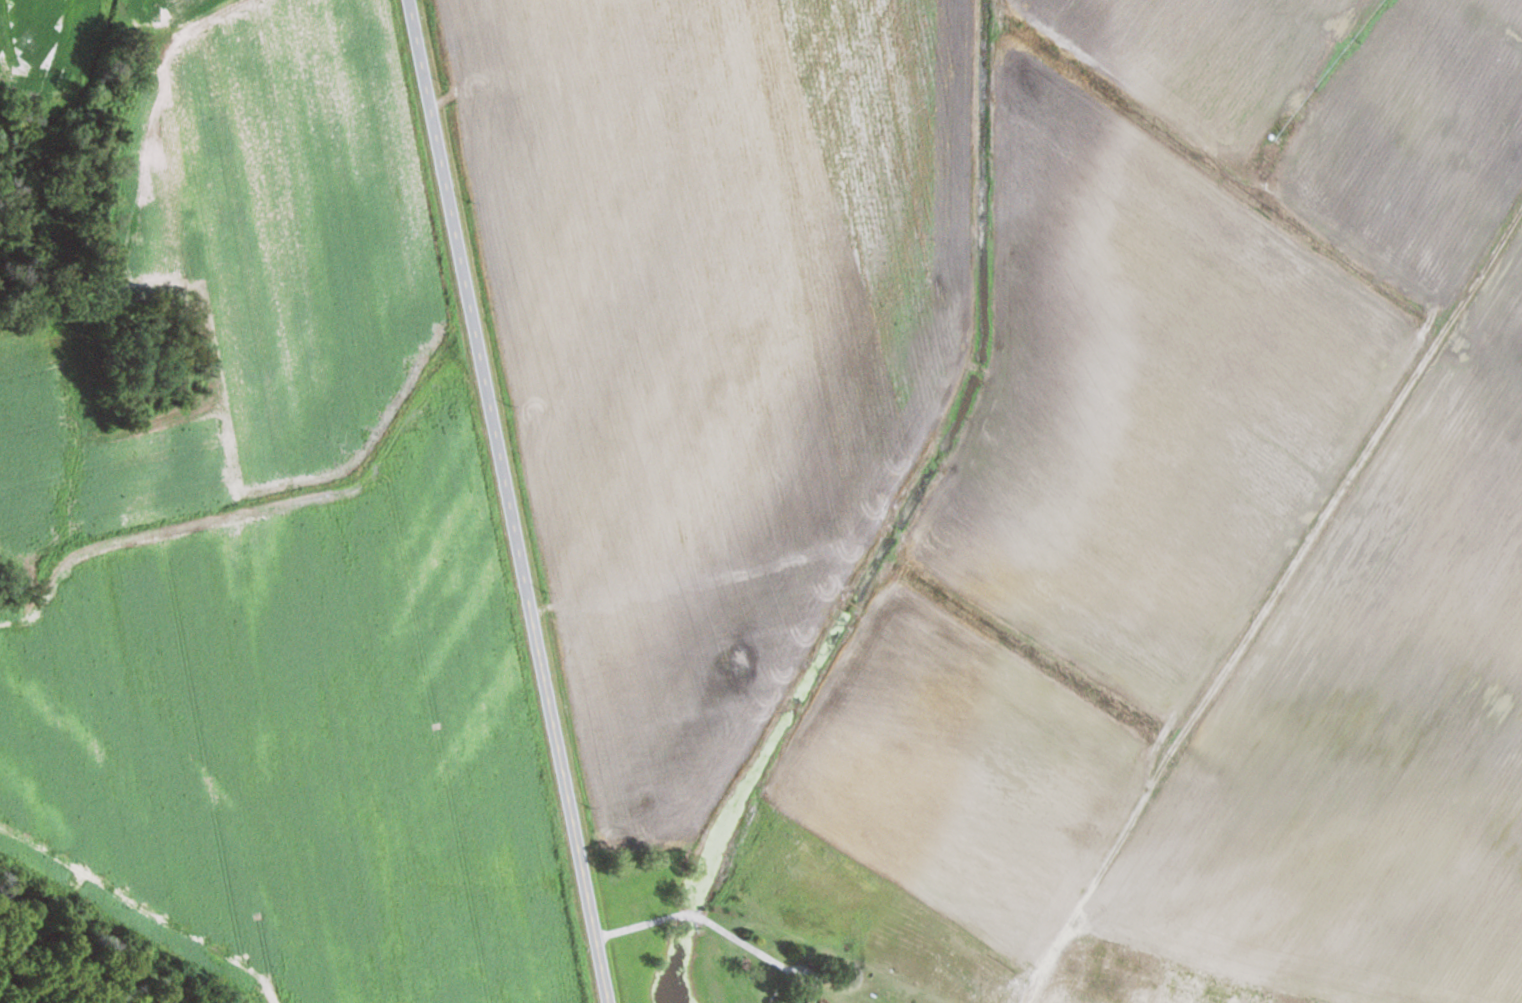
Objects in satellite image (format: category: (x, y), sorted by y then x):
road: (509, 501)
building: (801, 998)

